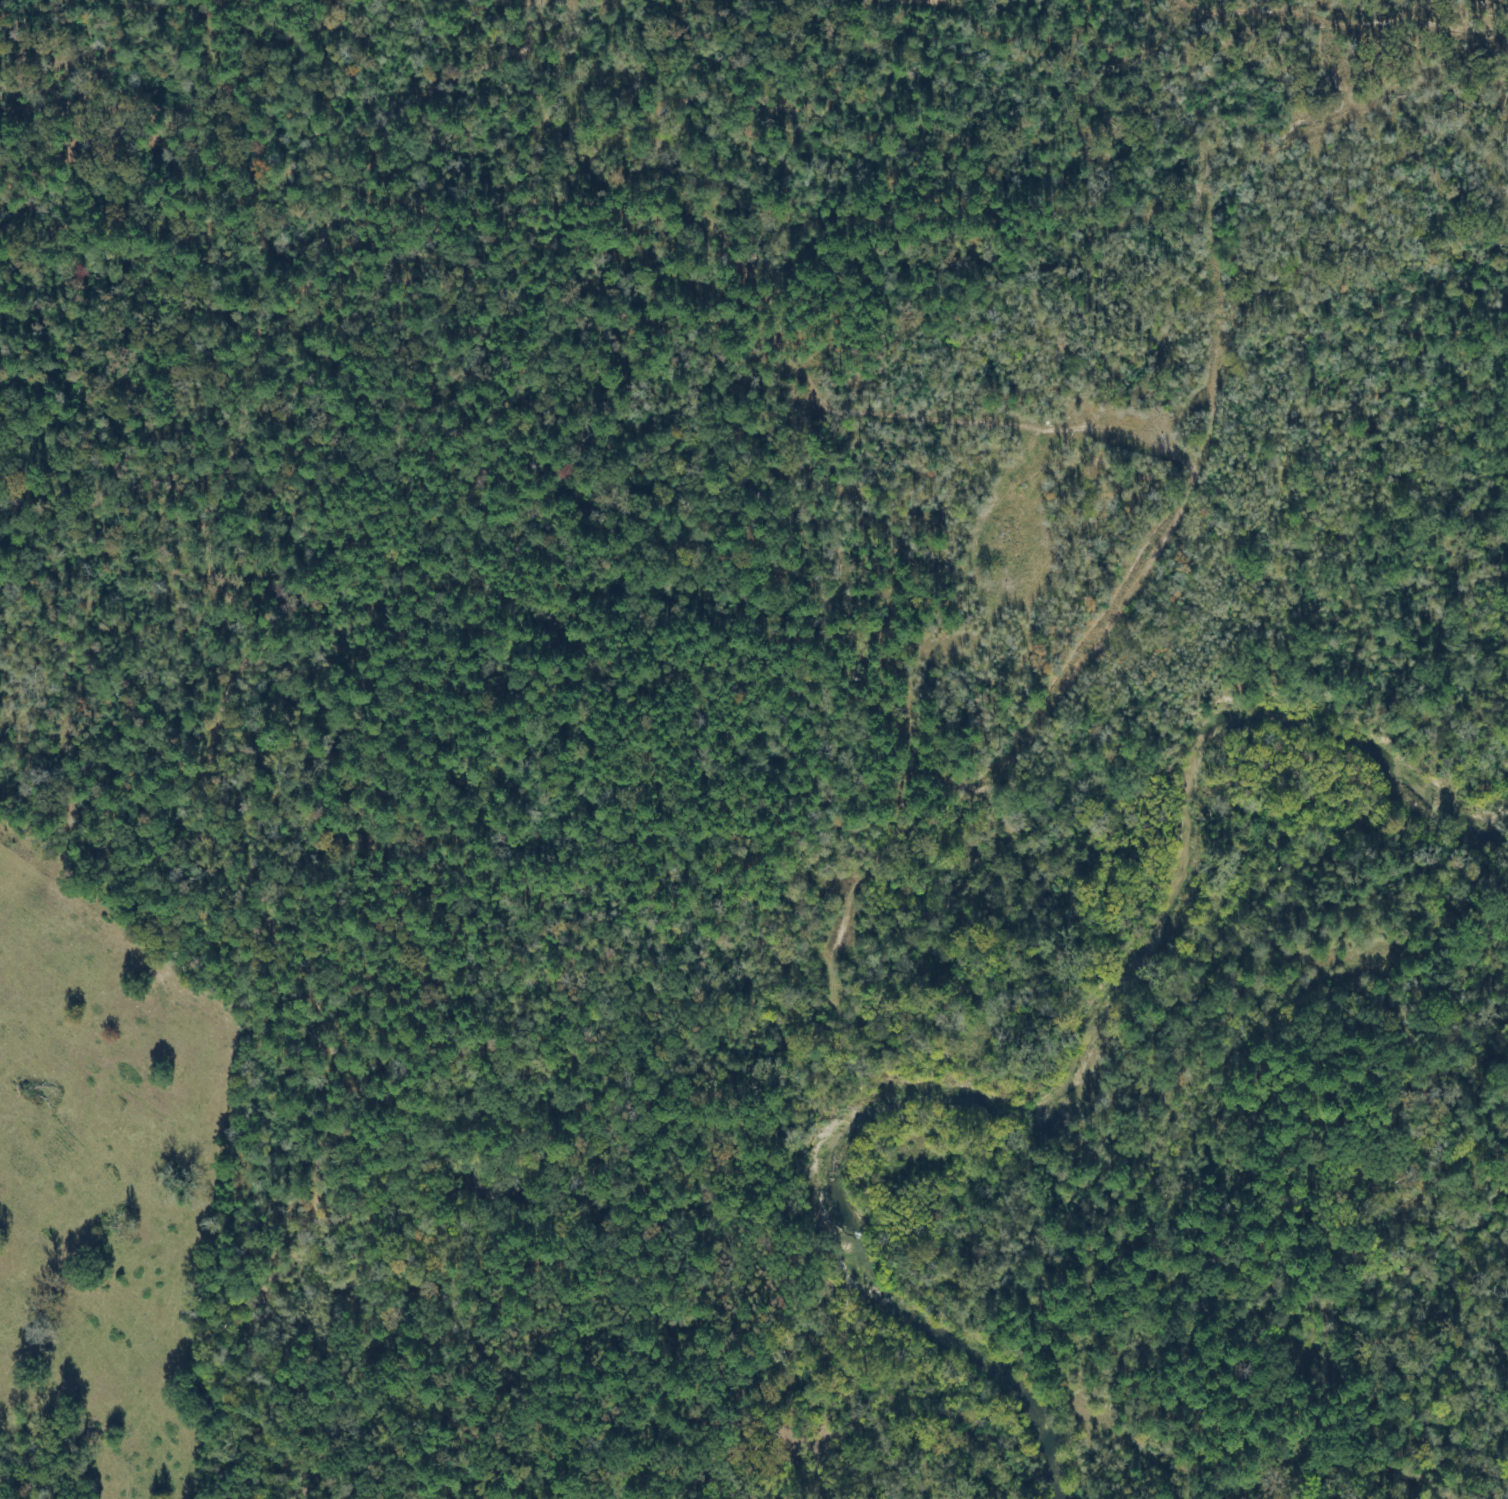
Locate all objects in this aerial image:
road: (1423, 949)

